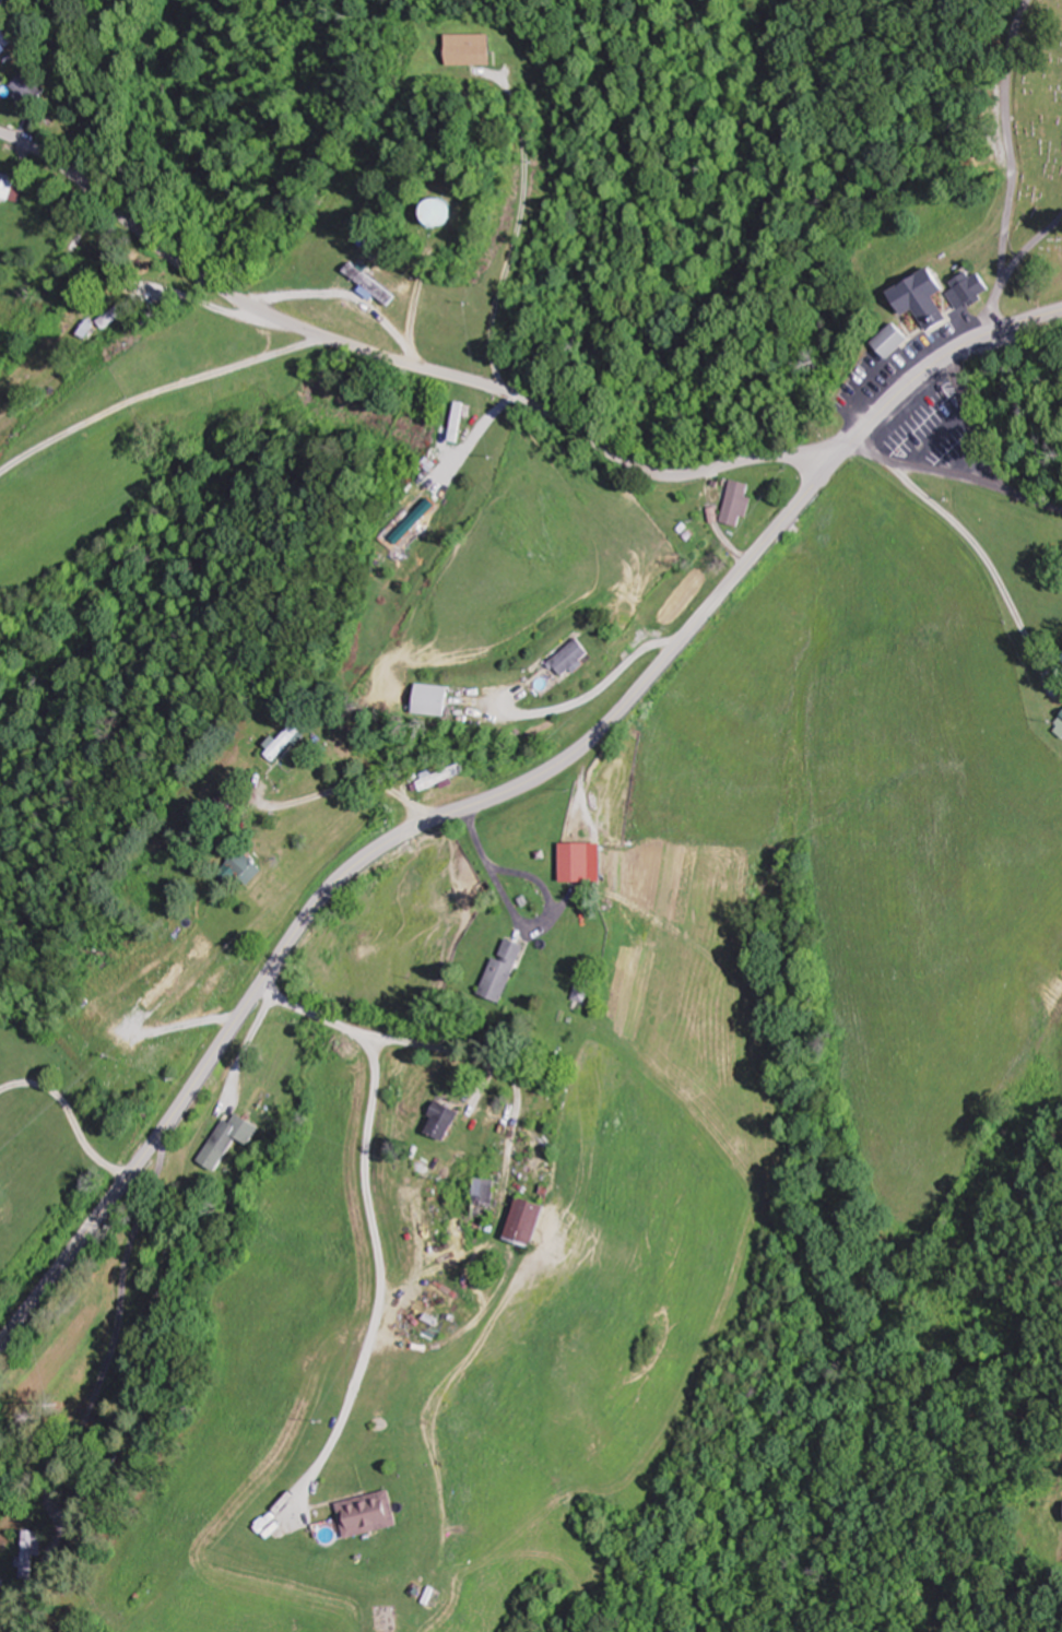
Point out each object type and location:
building: (8, 42)
building: (474, 49)
building: (32, 90)
road: (1012, 138)
building: (12, 189)
building: (451, 214)
road: (518, 227)
road: (1031, 246)
building: (376, 284)
building: (977, 287)
building: (928, 299)
road: (994, 307)
building: (122, 312)
building: (897, 342)
road: (939, 363)
road: (158, 392)
road: (510, 393)
road: (975, 422)
building: (740, 505)
building: (417, 521)
building: (574, 655)
building: (435, 698)
building: (1059, 726)
building: (287, 743)
building: (441, 776)
road: (376, 851)
building: (581, 861)
building: (248, 867)
building: (506, 969)
building: (585, 994)
building: (447, 1117)
building: (231, 1139)
building: (487, 1196)
building: (530, 1220)
road: (152, 1300)
building: (371, 1513)
building: (33, 1552)

